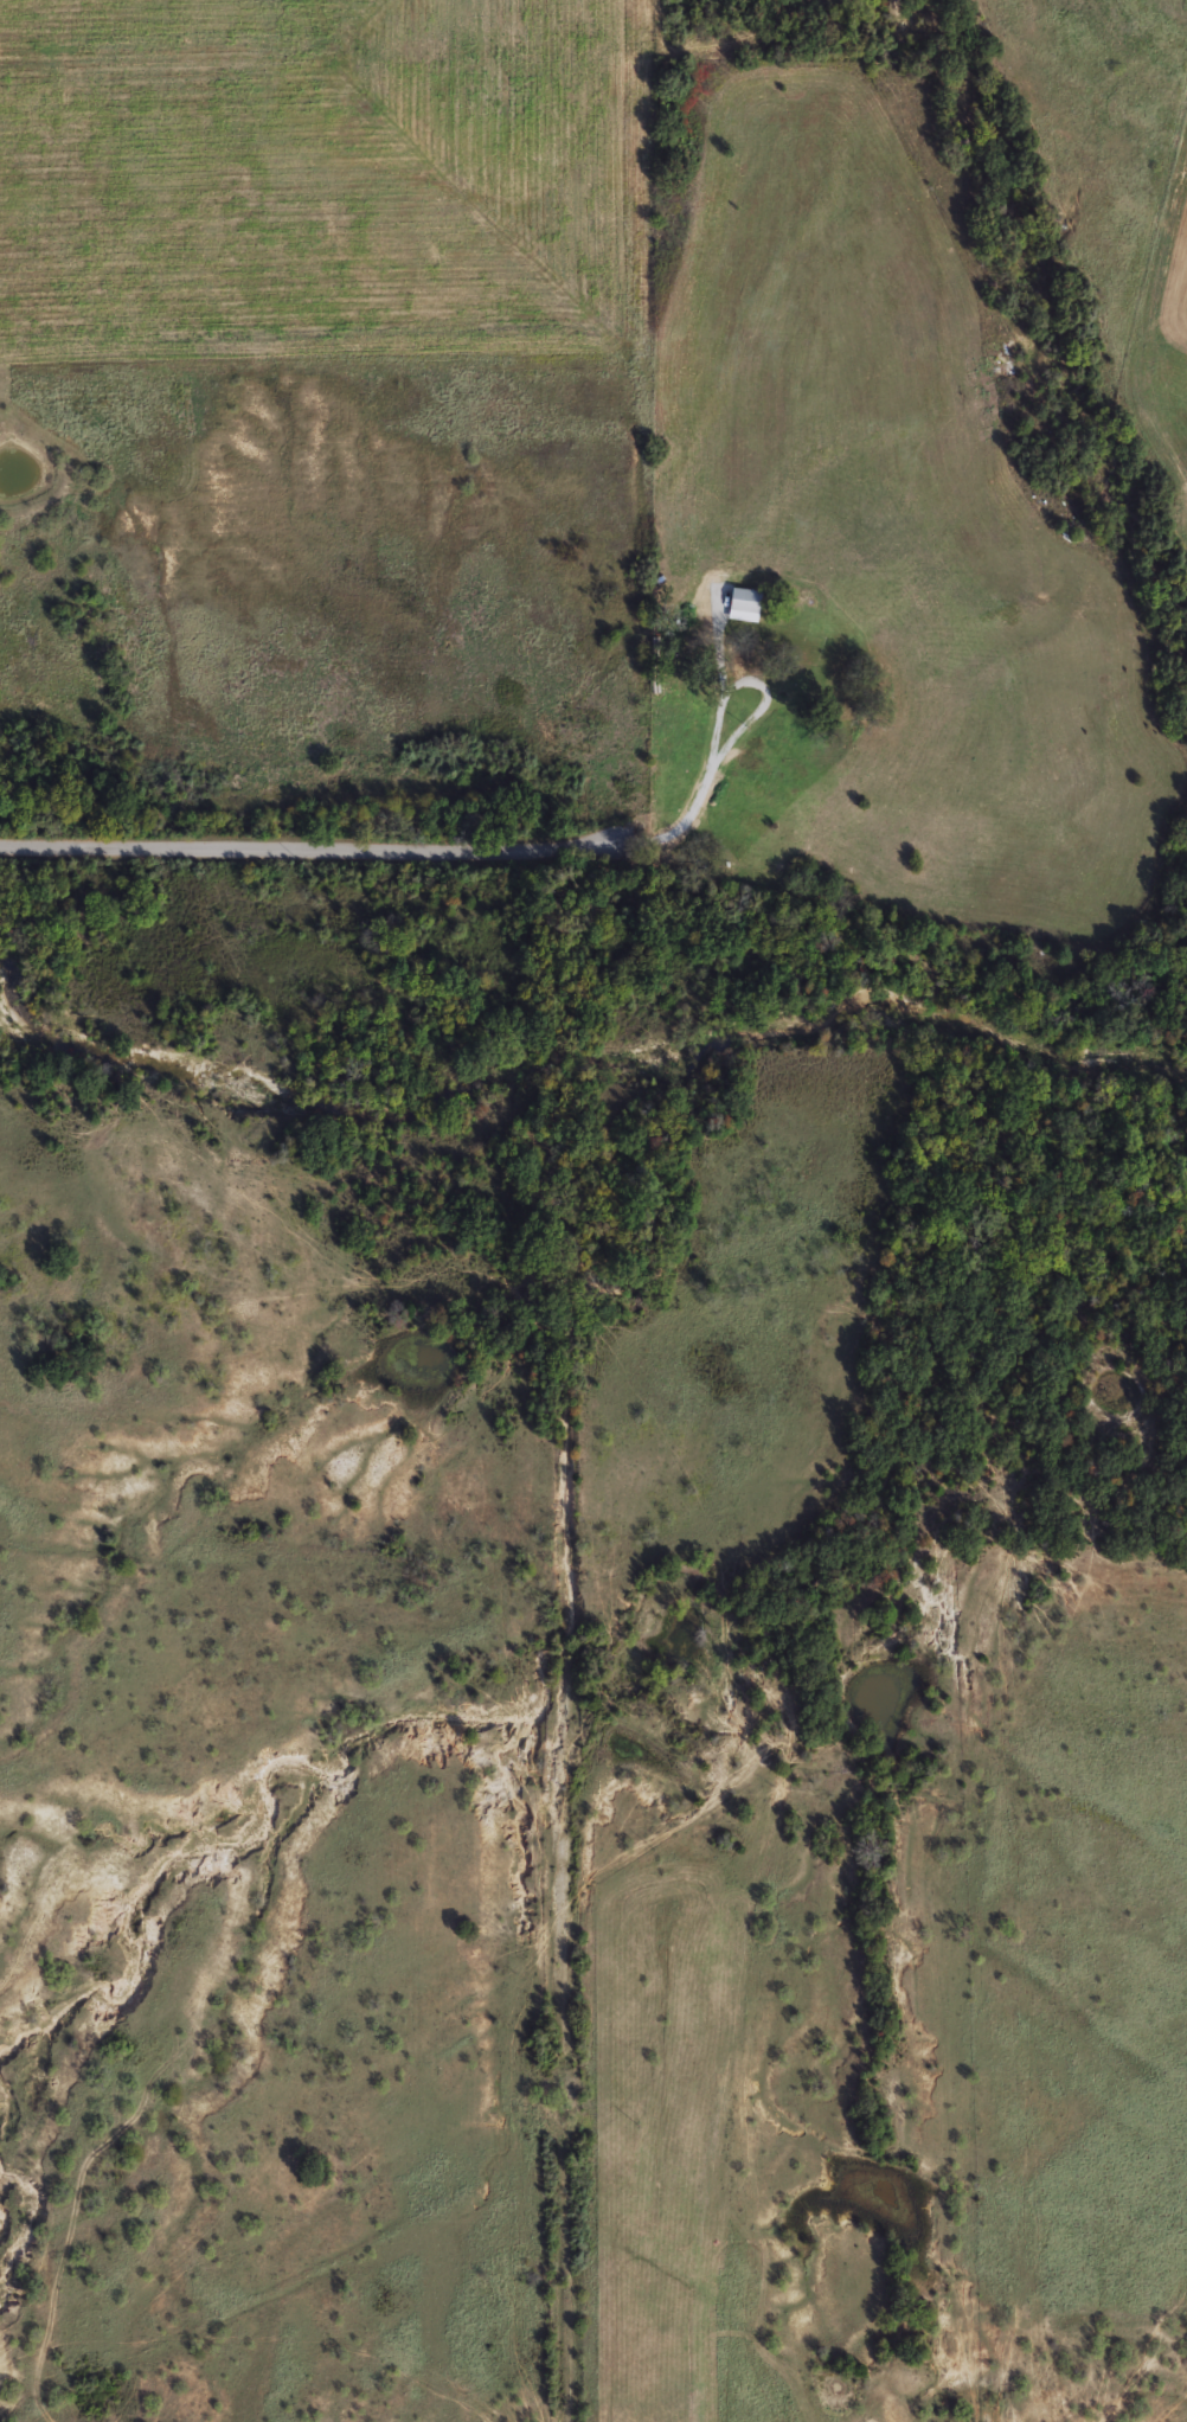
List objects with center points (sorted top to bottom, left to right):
building: (744, 600)
building: (797, 700)
road: (745, 722)
road: (319, 850)
road: (569, 1815)

